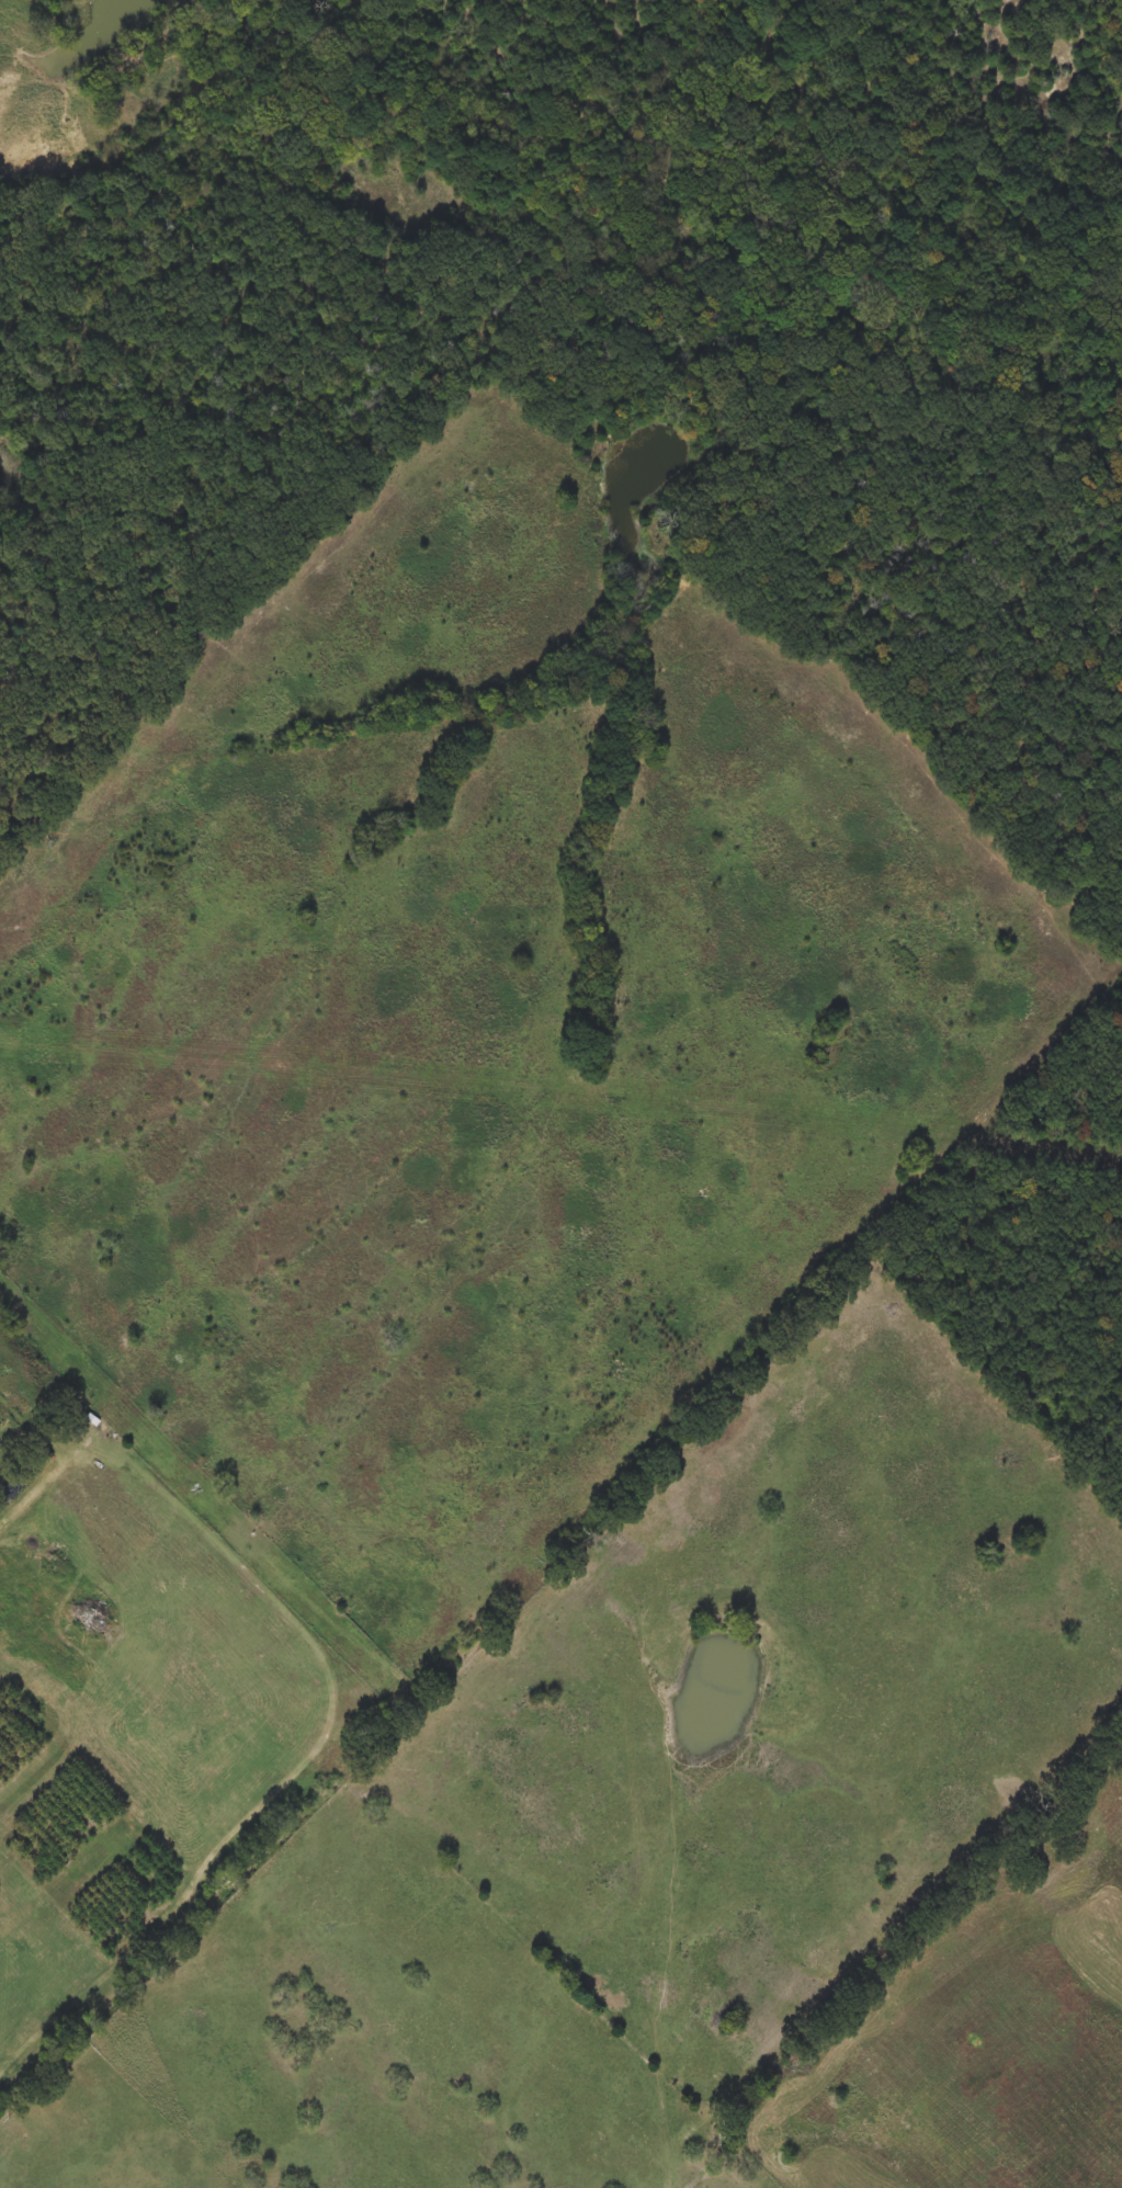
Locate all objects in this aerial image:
road: (31, 1496)

